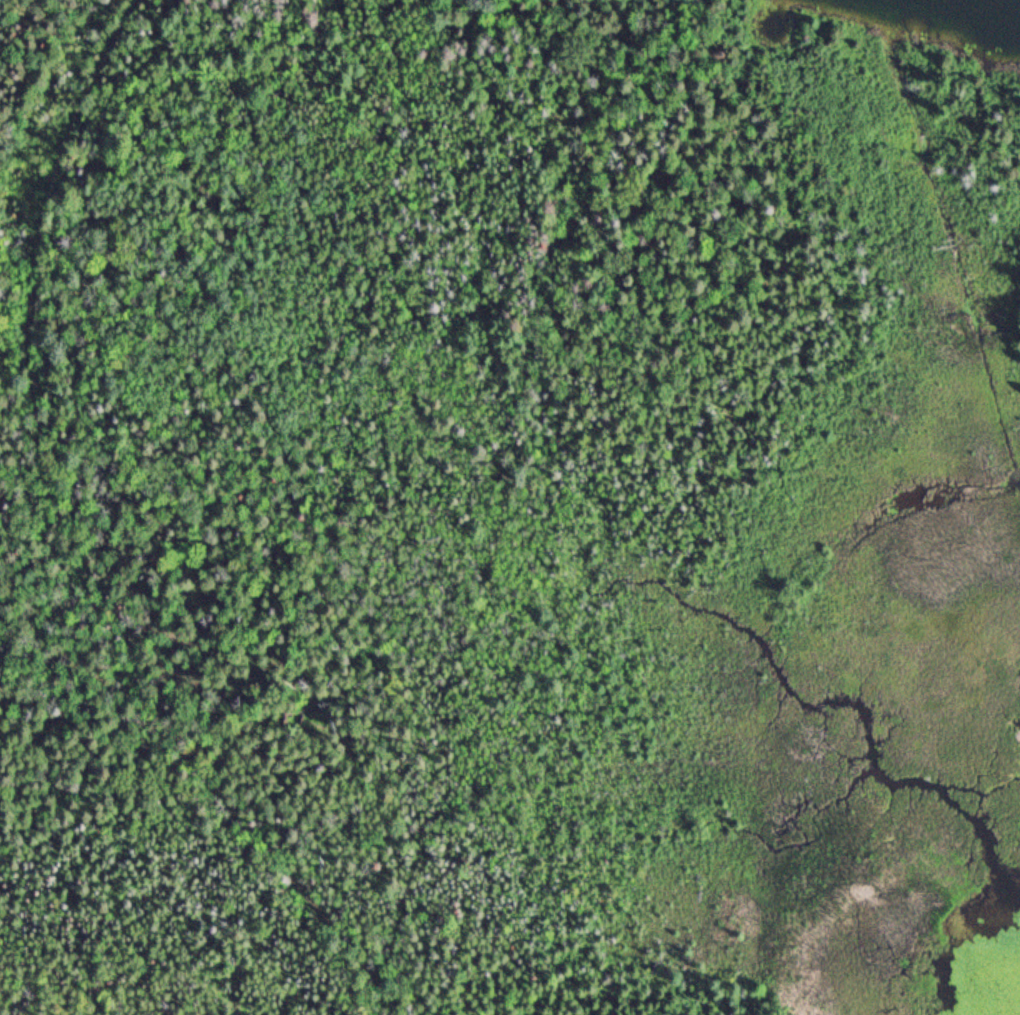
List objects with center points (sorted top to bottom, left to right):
road: (82, 549)

